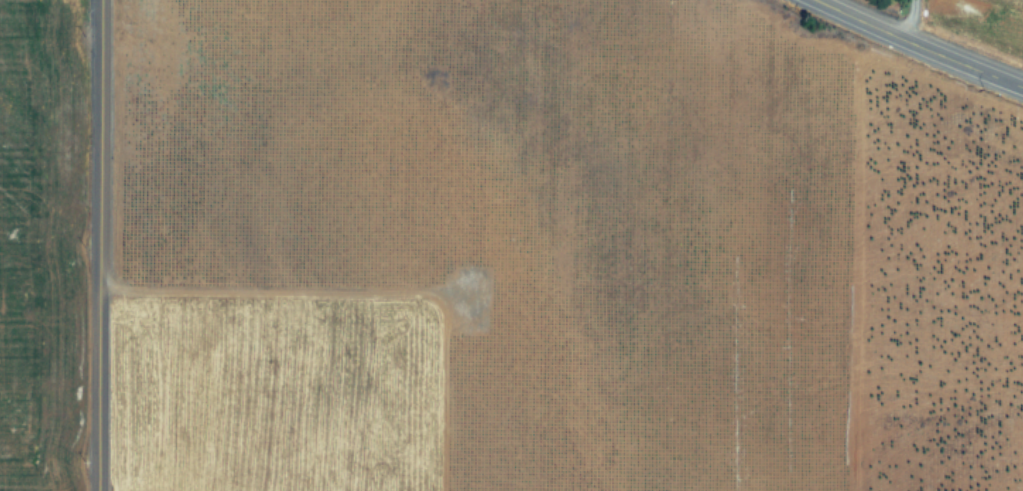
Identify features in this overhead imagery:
road: (907, 19)
road: (917, 45)
road: (98, 245)
crop: (497, 252)

